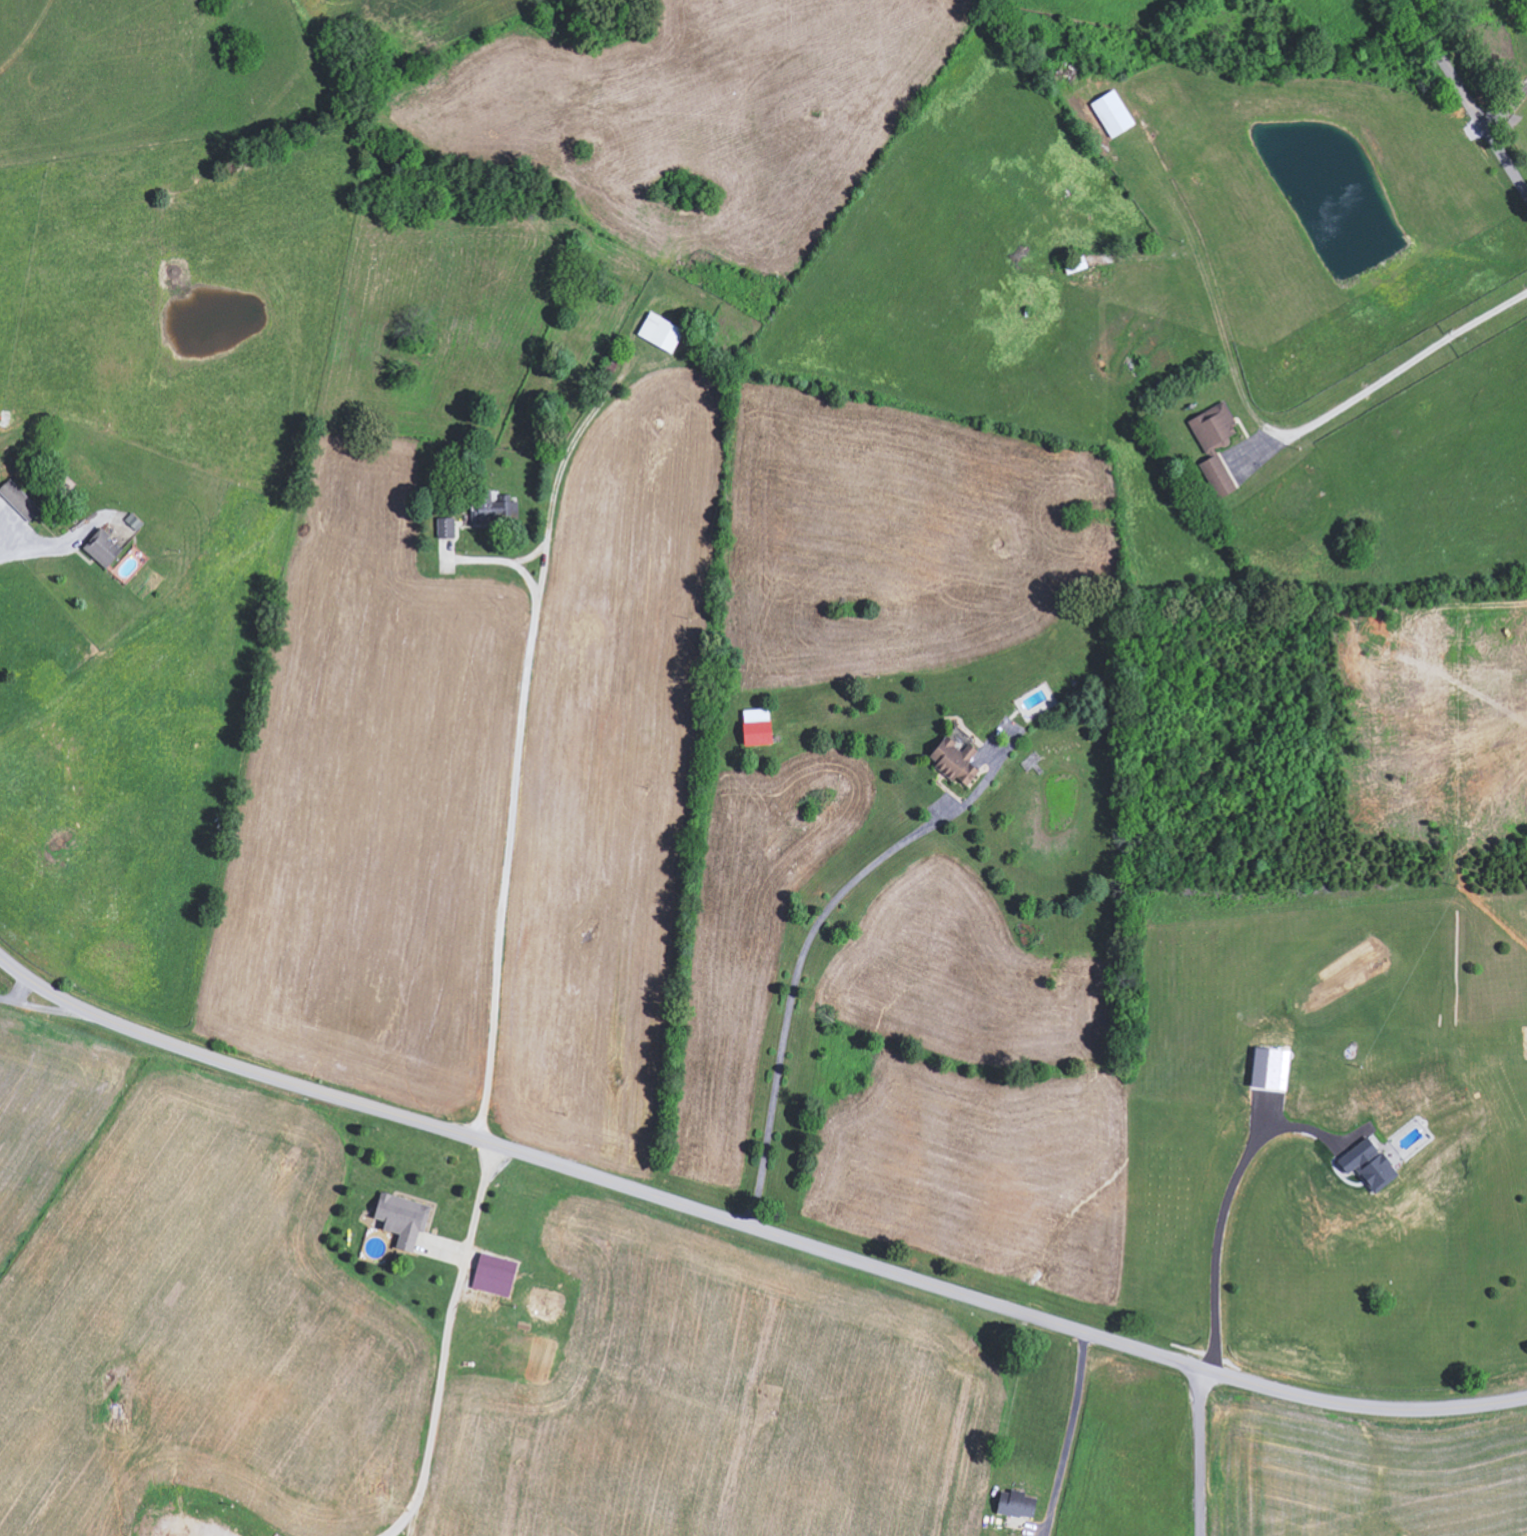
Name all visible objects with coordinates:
road: (1467, 97)
road: (1508, 109)
building: (1114, 113)
building: (662, 331)
road: (1384, 378)
building: (1215, 427)
building: (1219, 476)
building: (20, 500)
building: (495, 509)
building: (447, 527)
building: (103, 547)
road: (32, 554)
building: (760, 727)
building: (957, 761)
road: (511, 816)
road: (793, 988)
road: (18, 993)
building: (1272, 1069)
road: (1222, 1209)
building: (404, 1219)
road: (750, 1227)
building: (496, 1275)
building: (544, 1304)
road: (446, 1344)
road: (1069, 1434)
road: (1199, 1452)
building: (1019, 1503)

